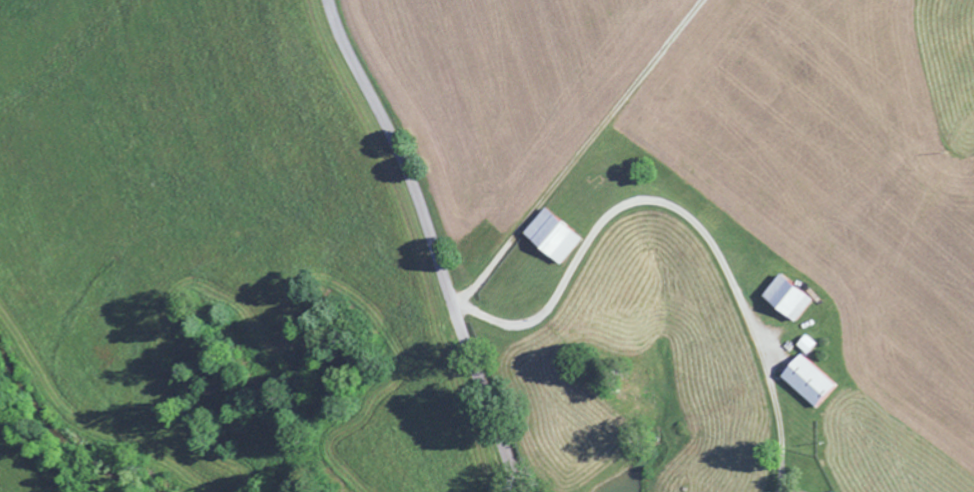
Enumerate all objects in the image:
road: (600, 191)
building: (555, 238)
road: (705, 242)
road: (431, 245)
building: (790, 300)
building: (807, 348)
building: (810, 384)

